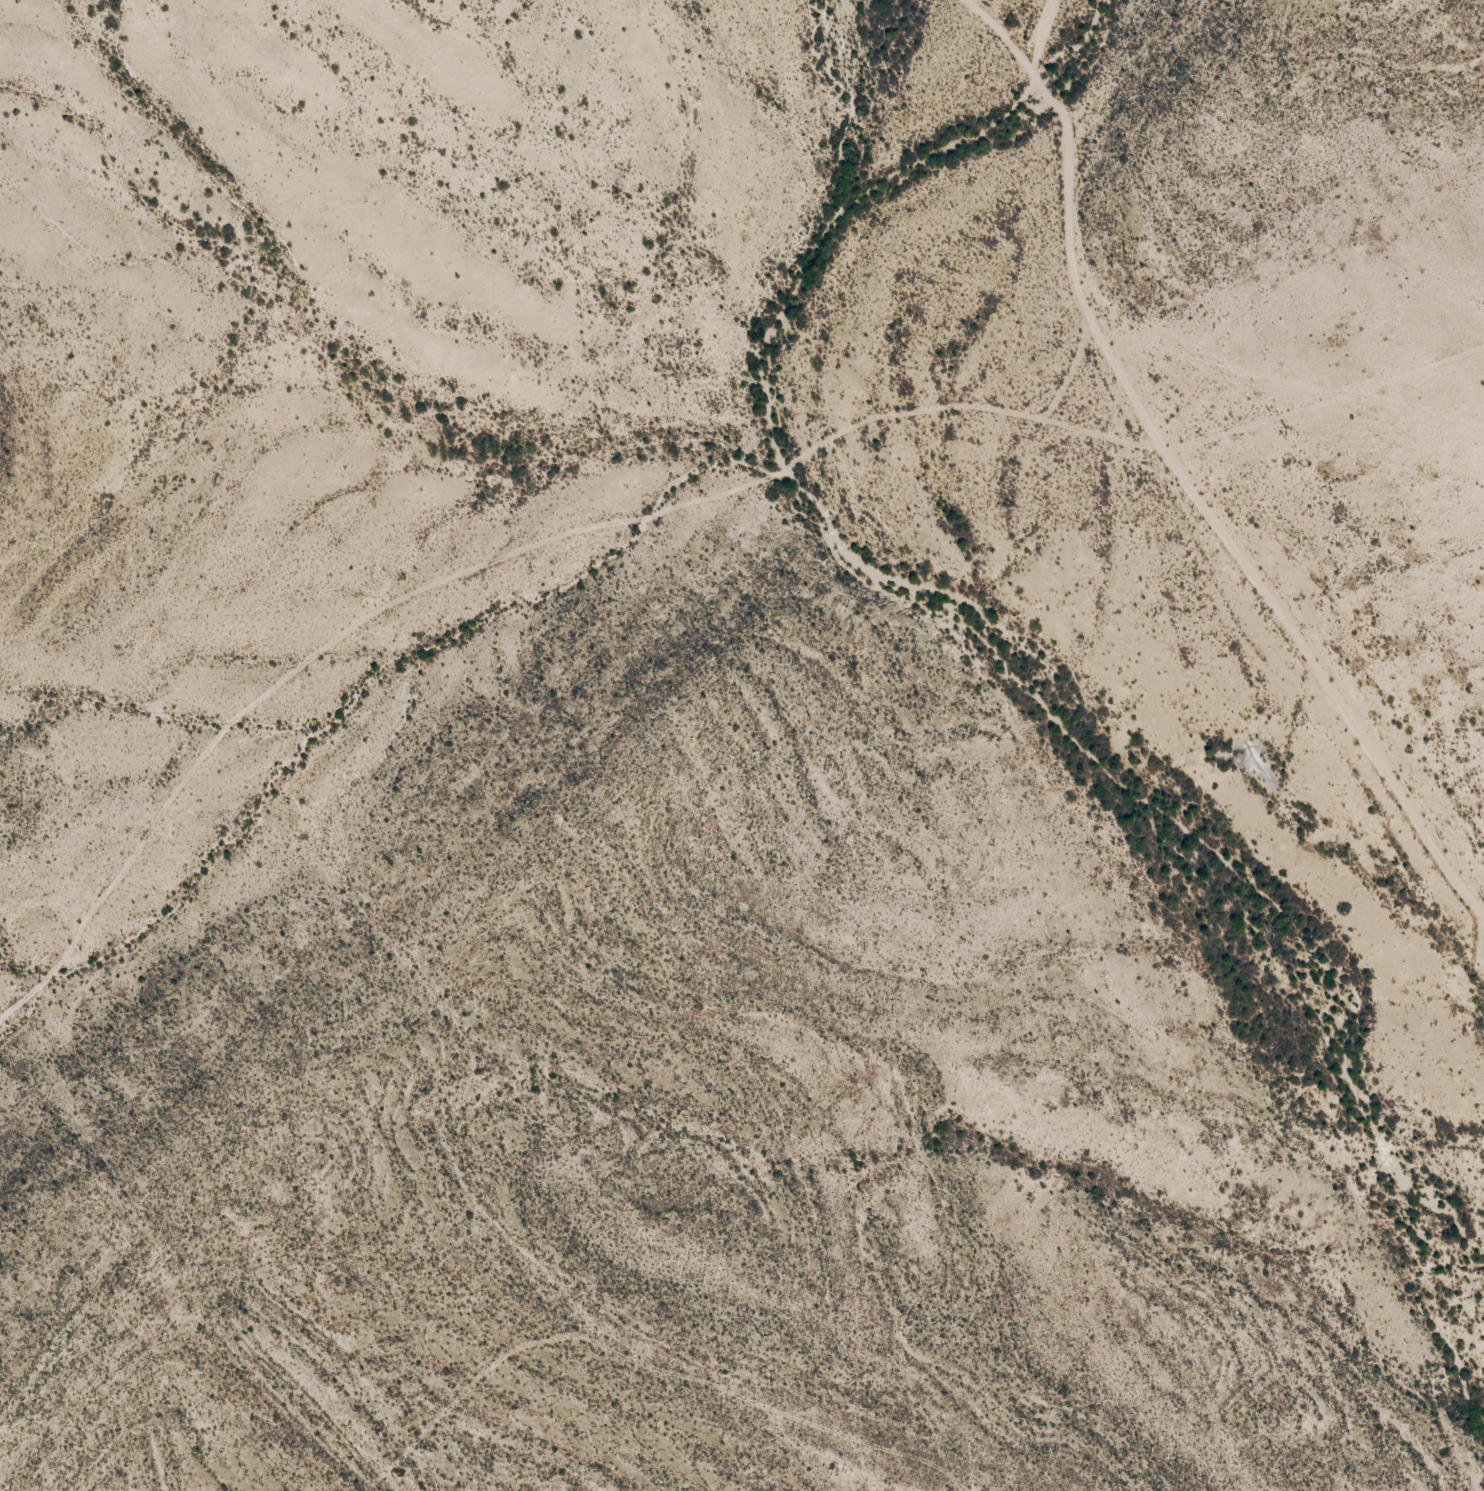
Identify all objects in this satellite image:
road: (1058, 11)
road: (1143, 362)
road: (1345, 650)

